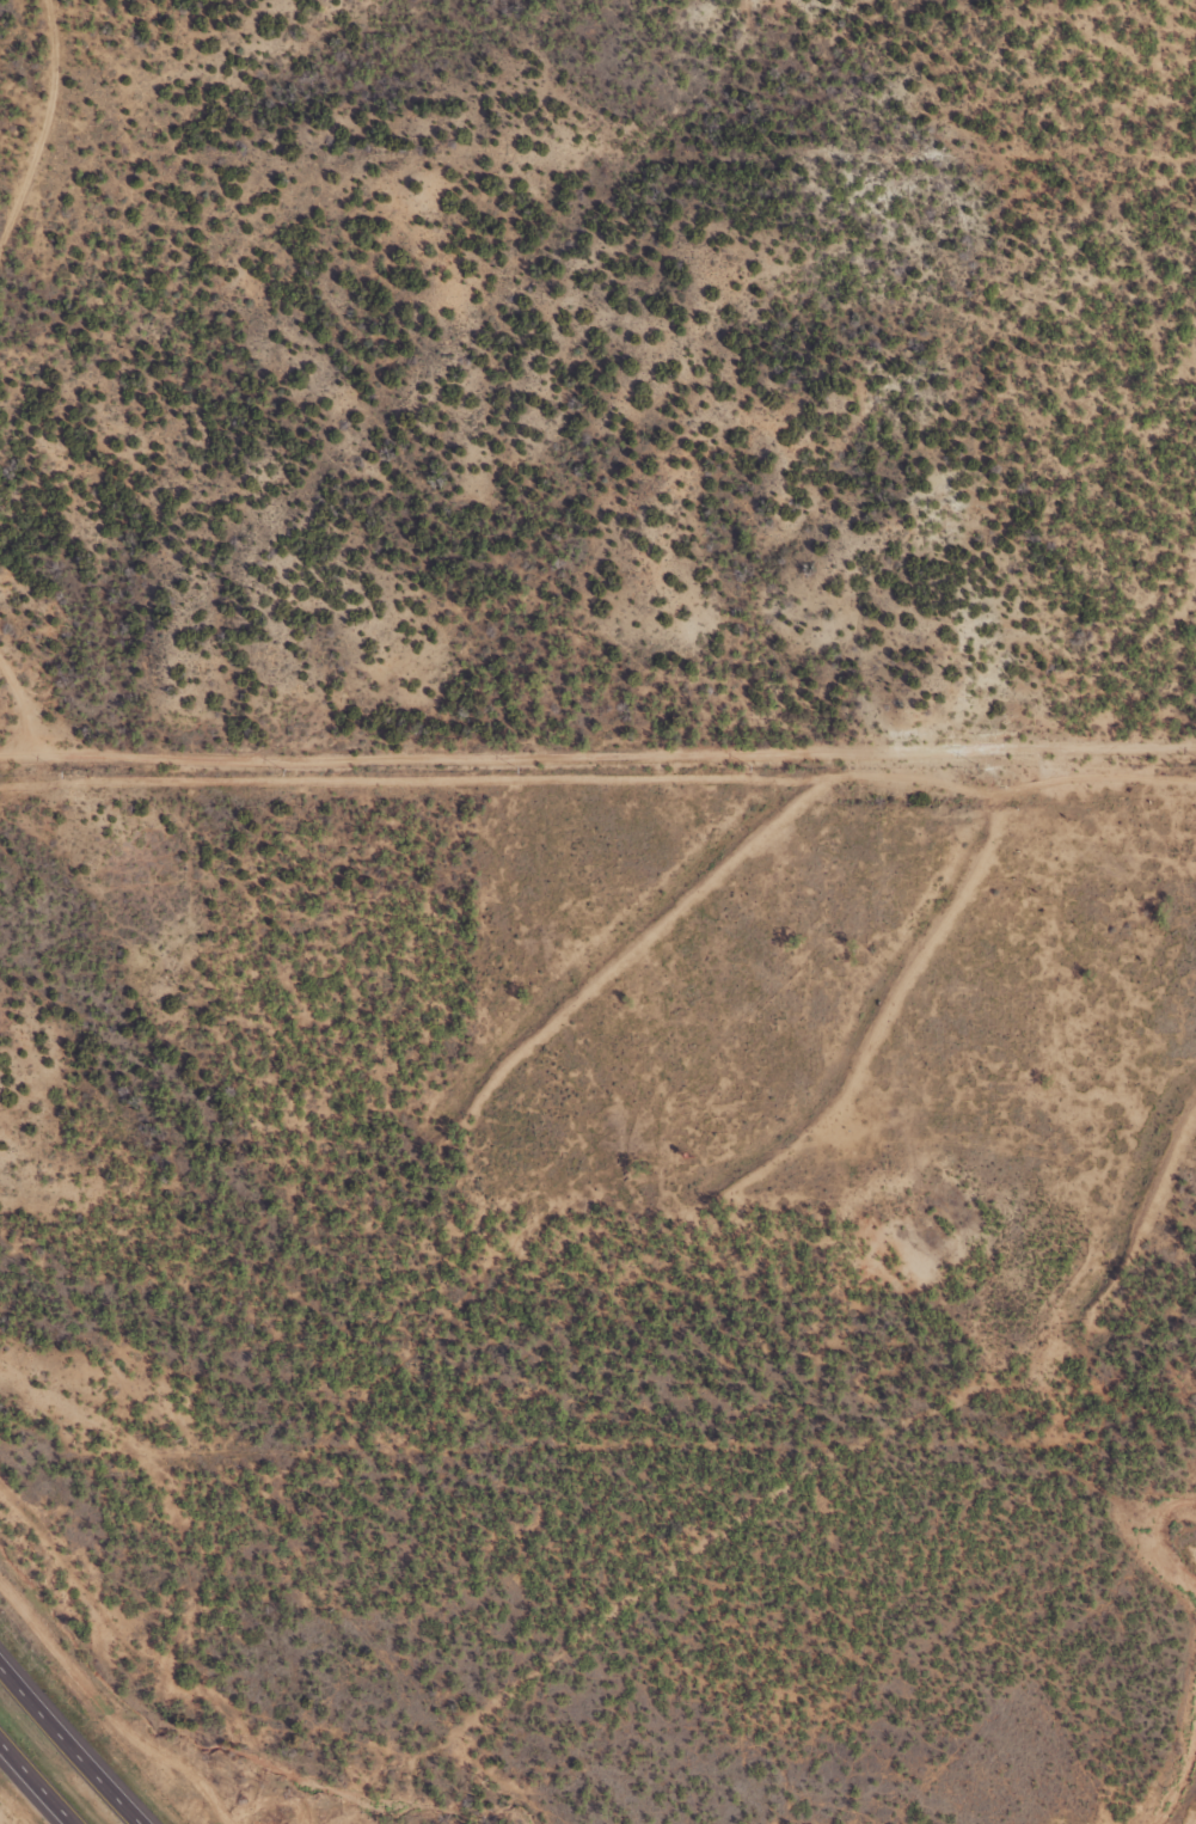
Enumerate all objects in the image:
road: (94, 226)
road: (43, 785)
road: (597, 852)
road: (70, 1745)
road: (39, 1780)

